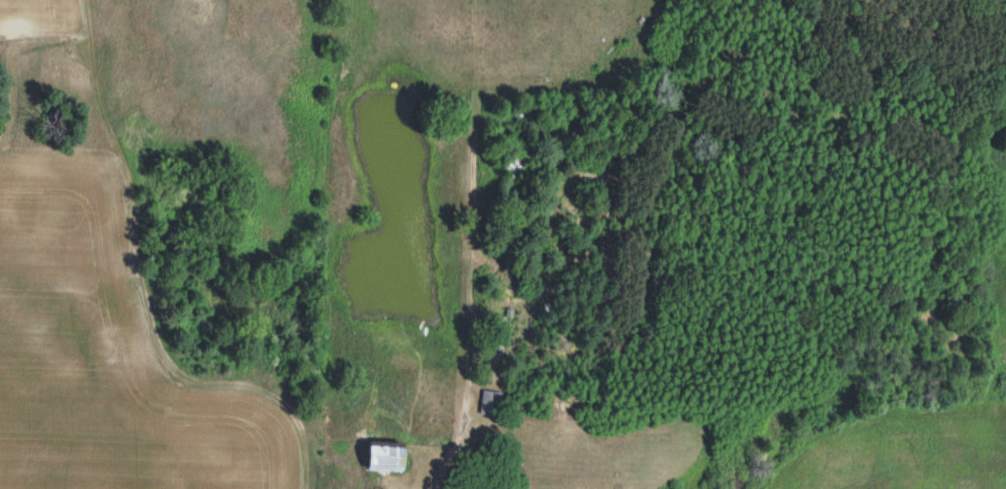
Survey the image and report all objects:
building: (499, 332)
building: (490, 403)
building: (382, 459)

